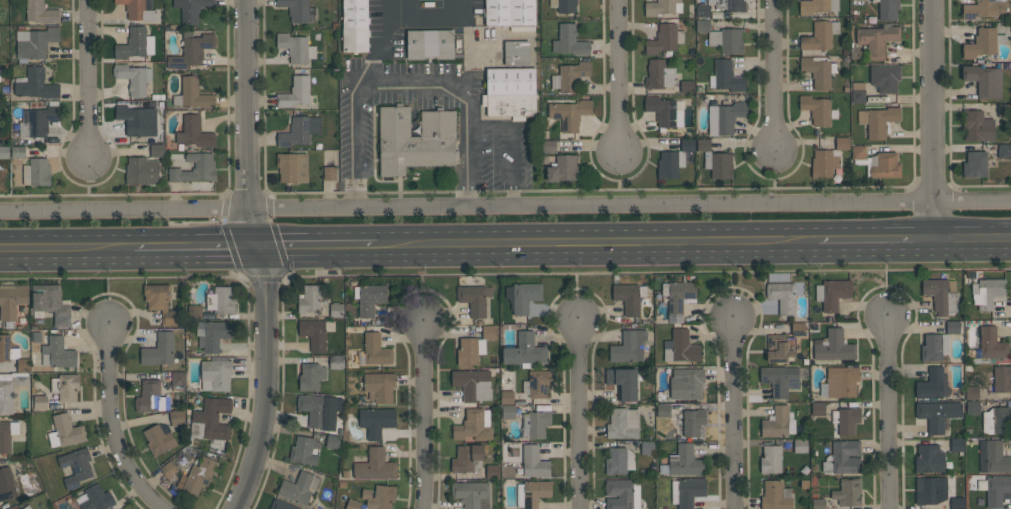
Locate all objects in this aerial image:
building: (728, 4)
building: (566, 6)
building: (817, 6)
building: (661, 7)
building: (190, 9)
building: (888, 9)
building: (984, 9)
building: (137, 10)
building: (296, 10)
building: (702, 11)
building: (41, 12)
building: (509, 12)
building: (354, 26)
building: (703, 26)
road: (386, 30)
building: (820, 35)
building: (664, 39)
building: (726, 40)
building: (876, 40)
building: (569, 41)
building: (34, 43)
building: (983, 43)
building: (134, 44)
building: (429, 44)
building: (295, 47)
building: (191, 50)
building: (516, 53)
building: (818, 70)
building: (659, 74)
road: (773, 75)
building: (570, 76)
road: (617, 77)
building: (726, 77)
building: (885, 77)
building: (132, 78)
road: (407, 78)
road: (87, 79)
building: (984, 80)
road: (365, 82)
building: (34, 84)
building: (687, 86)
road: (458, 90)
building: (510, 92)
building: (858, 92)
building: (295, 93)
building: (192, 94)
building: (818, 109)
building: (665, 111)
building: (569, 113)
building: (723, 118)
road: (930, 118)
building: (137, 120)
building: (37, 121)
building: (877, 121)
road: (249, 124)
building: (978, 127)
building: (299, 131)
building: (194, 133)
building: (415, 140)
building: (841, 143)
road: (510, 145)
building: (703, 145)
building: (549, 146)
building: (156, 150)
building: (1004, 151)
building: (4, 152)
building: (18, 152)
road: (469, 152)
building: (857, 152)
road: (354, 154)
building: (823, 163)
building: (670, 164)
building: (719, 164)
building: (975, 164)
building: (881, 165)
building: (292, 167)
building: (194, 168)
building: (563, 168)
building: (141, 171)
building: (36, 172)
building: (329, 173)
road: (775, 175)
road: (618, 178)
road: (505, 204)
road: (969, 227)
road: (873, 238)
road: (596, 242)
road: (317, 248)
road: (196, 249)
traffic signals: (258, 249)
road: (969, 250)
road: (67, 251)
road: (886, 276)
road: (578, 281)
road: (735, 282)
road: (427, 284)
road: (111, 288)
building: (987, 292)
building: (832, 293)
building: (678, 295)
building: (941, 295)
building: (522, 296)
building: (782, 296)
building: (629, 297)
building: (370, 298)
building: (309, 299)
building: (474, 299)
building: (11, 300)
building: (221, 300)
building: (160, 302)
building: (51, 303)
building: (336, 310)
building: (194, 311)
building: (952, 327)
building: (797, 328)
building: (488, 332)
building: (313, 333)
building: (215, 334)
building: (992, 344)
building: (833, 346)
building: (934, 346)
building: (628, 347)
building: (680, 347)
building: (779, 347)
building: (7, 349)
building: (159, 350)
building: (469, 350)
building: (524, 351)
building: (369, 352)
building: (57, 353)
building: (336, 362)
building: (23, 365)
building: (216, 375)
building: (311, 376)
building: (1001, 378)
building: (178, 379)
building: (779, 379)
road: (269, 380)
building: (840, 382)
building: (622, 383)
building: (686, 383)
building: (473, 384)
building: (536, 384)
building: (932, 384)
building: (65, 386)
building: (379, 386)
building: (9, 390)
building: (971, 392)
building: (151, 397)
building: (506, 397)
building: (40, 400)
building: (972, 407)
building: (818, 408)
building: (319, 410)
building: (663, 410)
building: (508, 411)
road: (887, 412)
road: (580, 414)
building: (937, 414)
road: (427, 416)
road: (735, 416)
building: (176, 417)
building: (210, 419)
building: (845, 420)
building: (996, 420)
building: (376, 421)
building: (780, 421)
building: (692, 422)
building: (536, 423)
building: (622, 423)
building: (474, 425)
road: (115, 426)
building: (65, 431)
building: (7, 435)
building: (158, 439)
building: (332, 441)
building: (957, 444)
building: (800, 445)
building: (646, 447)
building: (303, 450)
building: (843, 457)
building: (992, 457)
building: (467, 458)
building: (929, 458)
building: (770, 459)
building: (618, 460)
building: (534, 461)
building: (684, 461)
building: (375, 465)
building: (76, 467)
building: (168, 469)
building: (492, 471)
building: (199, 475)
building: (6, 484)
building: (299, 487)
building: (995, 489)
building: (930, 490)
building: (686, 491)
building: (847, 492)
building: (532, 493)
building: (622, 493)
building: (472, 494)
building: (775, 495)
building: (379, 496)
building: (93, 498)
building: (957, 503)
building: (282, 504)
building: (352, 504)
building: (818, 504)
building: (21, 508)

